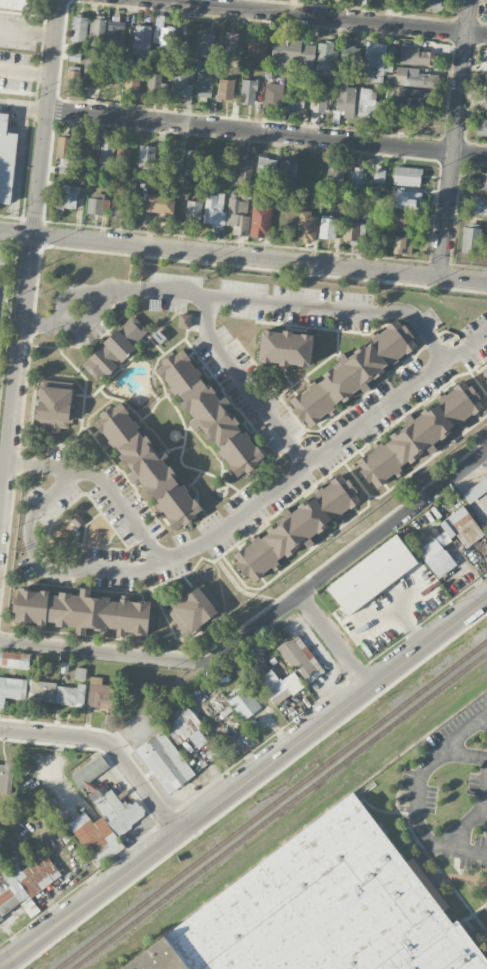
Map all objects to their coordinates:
building: (399, 0)
building: (16, 4)
building: (432, 4)
road: (324, 17)
building: (79, 28)
building: (115, 29)
building: (96, 31)
building: (162, 32)
building: (142, 40)
building: (230, 42)
building: (206, 44)
building: (256, 50)
building: (291, 52)
building: (351, 55)
building: (327, 56)
building: (414, 56)
building: (374, 59)
building: (91, 68)
road: (25, 73)
building: (410, 77)
building: (133, 81)
building: (156, 82)
building: (204, 86)
building: (225, 89)
building: (248, 92)
building: (273, 94)
building: (345, 98)
building: (420, 98)
building: (318, 100)
building: (486, 101)
building: (295, 102)
building: (366, 103)
road: (30, 109)
road: (46, 116)
building: (482, 129)
road: (266, 133)
road: (456, 137)
building: (63, 147)
building: (86, 148)
building: (106, 152)
building: (122, 153)
building: (6, 157)
building: (146, 157)
building: (193, 161)
building: (246, 168)
building: (266, 168)
building: (288, 169)
building: (335, 176)
building: (357, 176)
building: (407, 176)
building: (480, 181)
building: (65, 197)
building: (408, 199)
building: (97, 204)
building: (161, 206)
building: (480, 206)
building: (118, 208)
building: (214, 209)
building: (193, 212)
building: (238, 216)
building: (260, 221)
building: (406, 221)
building: (307, 226)
building: (327, 228)
building: (470, 238)
building: (402, 245)
road: (243, 254)
road: (147, 289)
road: (68, 295)
road: (343, 310)
building: (184, 321)
road: (44, 325)
building: (115, 348)
building: (285, 348)
building: (484, 367)
building: (353, 372)
road: (17, 376)
road: (246, 384)
building: (54, 406)
building: (209, 413)
building: (419, 434)
building: (147, 466)
building: (475, 489)
road: (247, 507)
building: (480, 513)
building: (486, 525)
building: (461, 526)
building: (295, 528)
building: (437, 555)
road: (347, 558)
road: (45, 570)
building: (371, 574)
building: (194, 609)
building: (83, 611)
road: (334, 642)
road: (103, 653)
building: (298, 657)
building: (14, 659)
building: (279, 686)
building: (12, 689)
building: (42, 690)
building: (99, 692)
building: (70, 694)
building: (244, 704)
road: (483, 712)
road: (483, 719)
building: (185, 726)
road: (456, 732)
road: (109, 745)
building: (164, 761)
building: (7, 776)
road: (421, 779)
road: (243, 783)
railway: (271, 804)
building: (117, 810)
railway: (279, 810)
road: (482, 813)
road: (465, 824)
building: (96, 837)
road: (463, 849)
building: (39, 874)
building: (6, 897)
building: (322, 909)
building: (0, 918)

